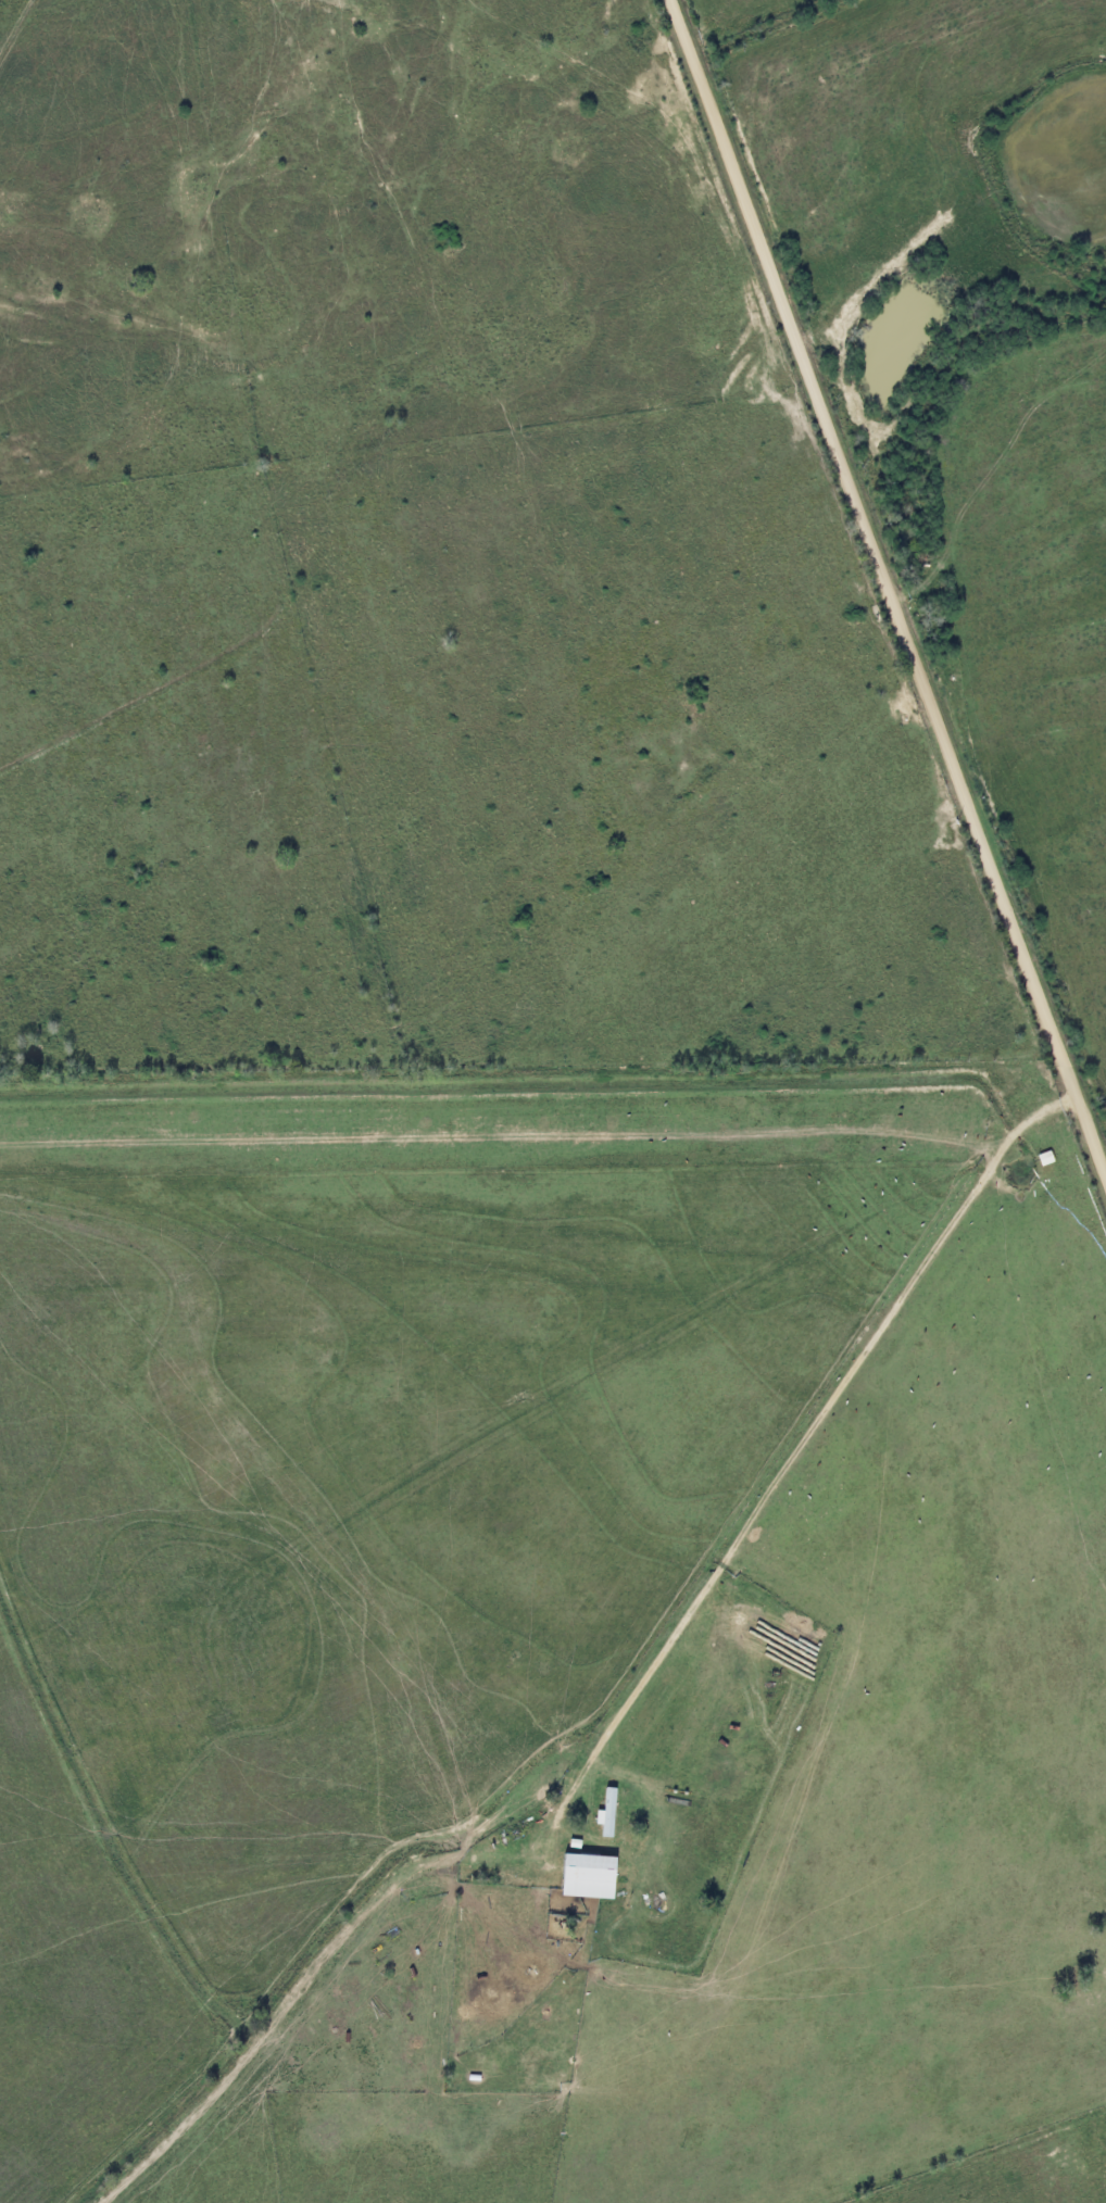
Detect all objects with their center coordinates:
road: (885, 593)
road: (815, 1409)
building: (604, 1813)
building: (583, 1874)

